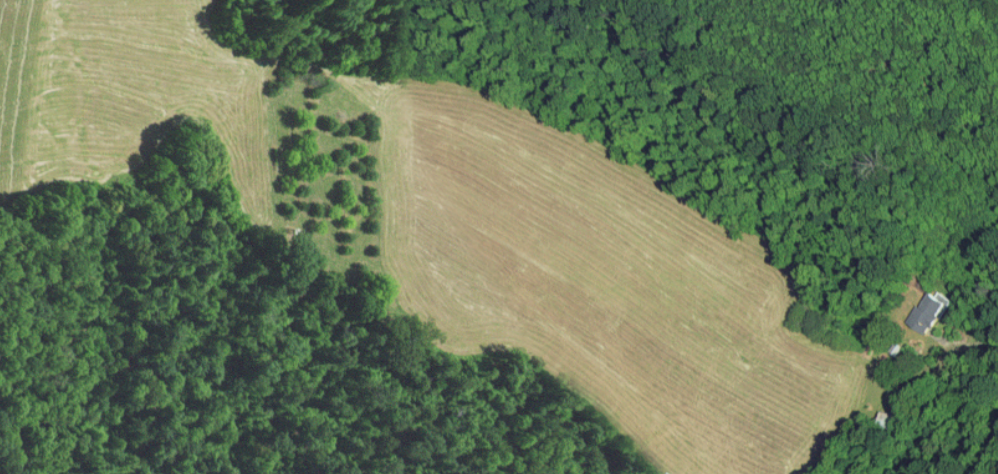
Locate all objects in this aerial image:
building: (919, 305)
road: (978, 344)
road: (994, 466)

